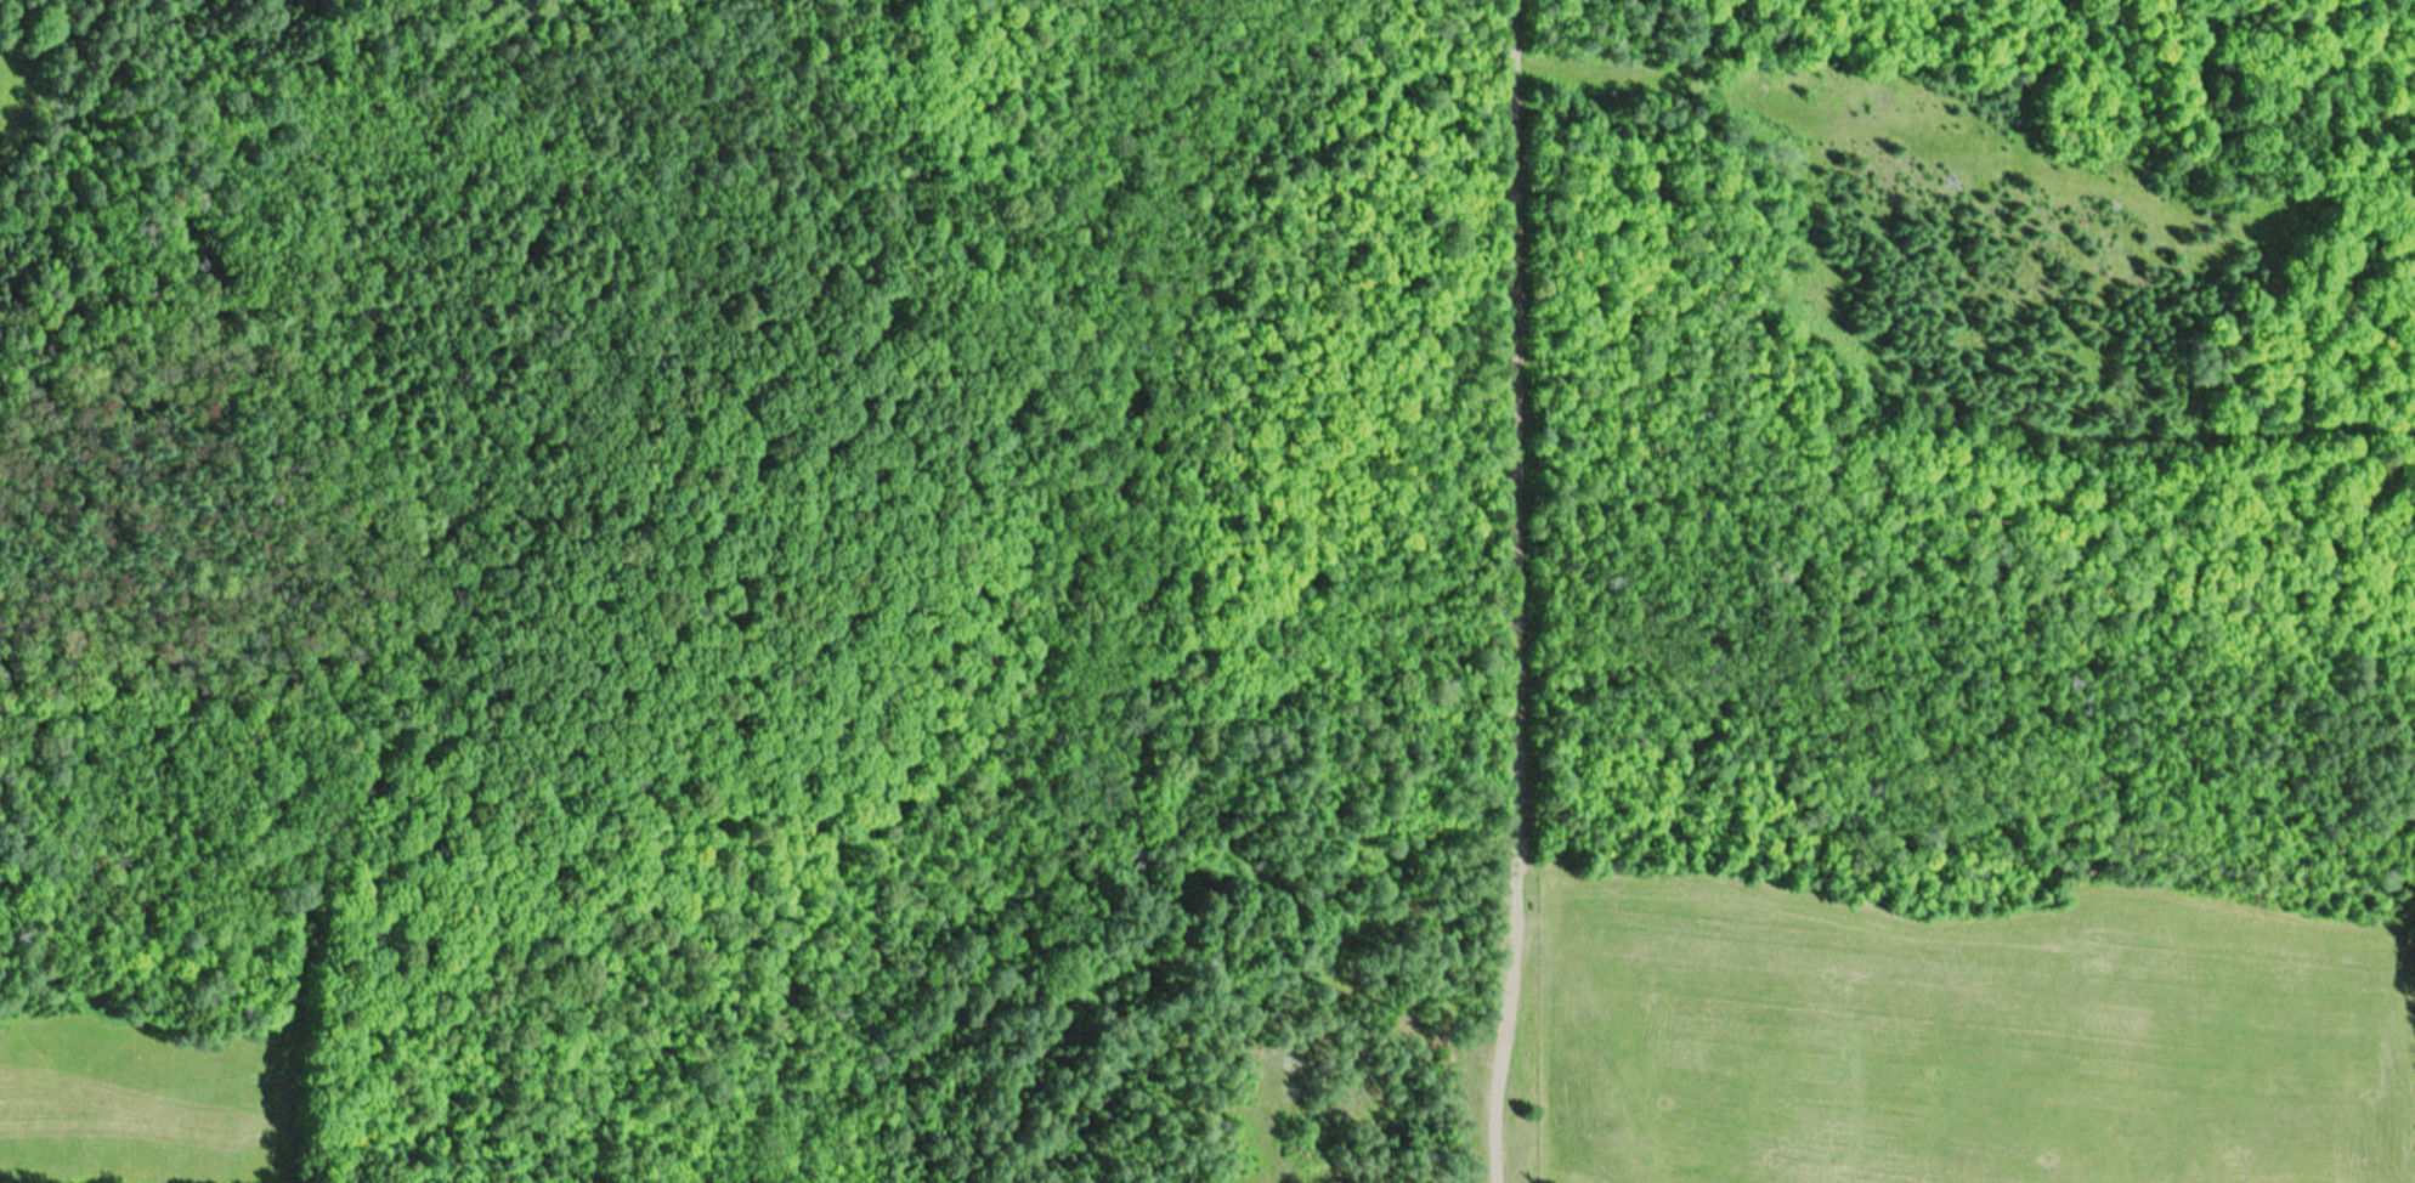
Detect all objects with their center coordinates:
road: (1535, 591)

